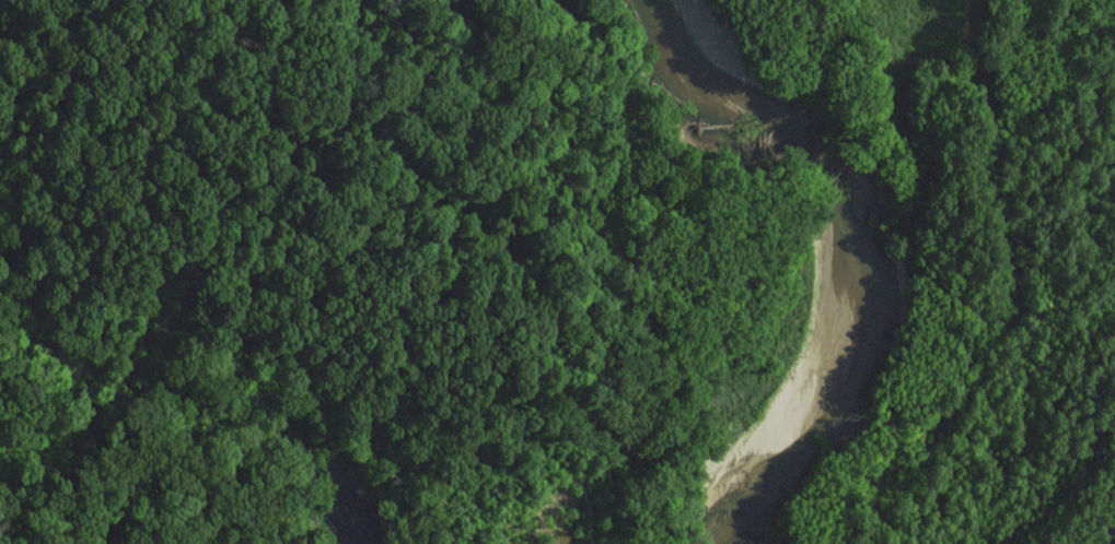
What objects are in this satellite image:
river: (868, 239)
road: (1106, 534)

